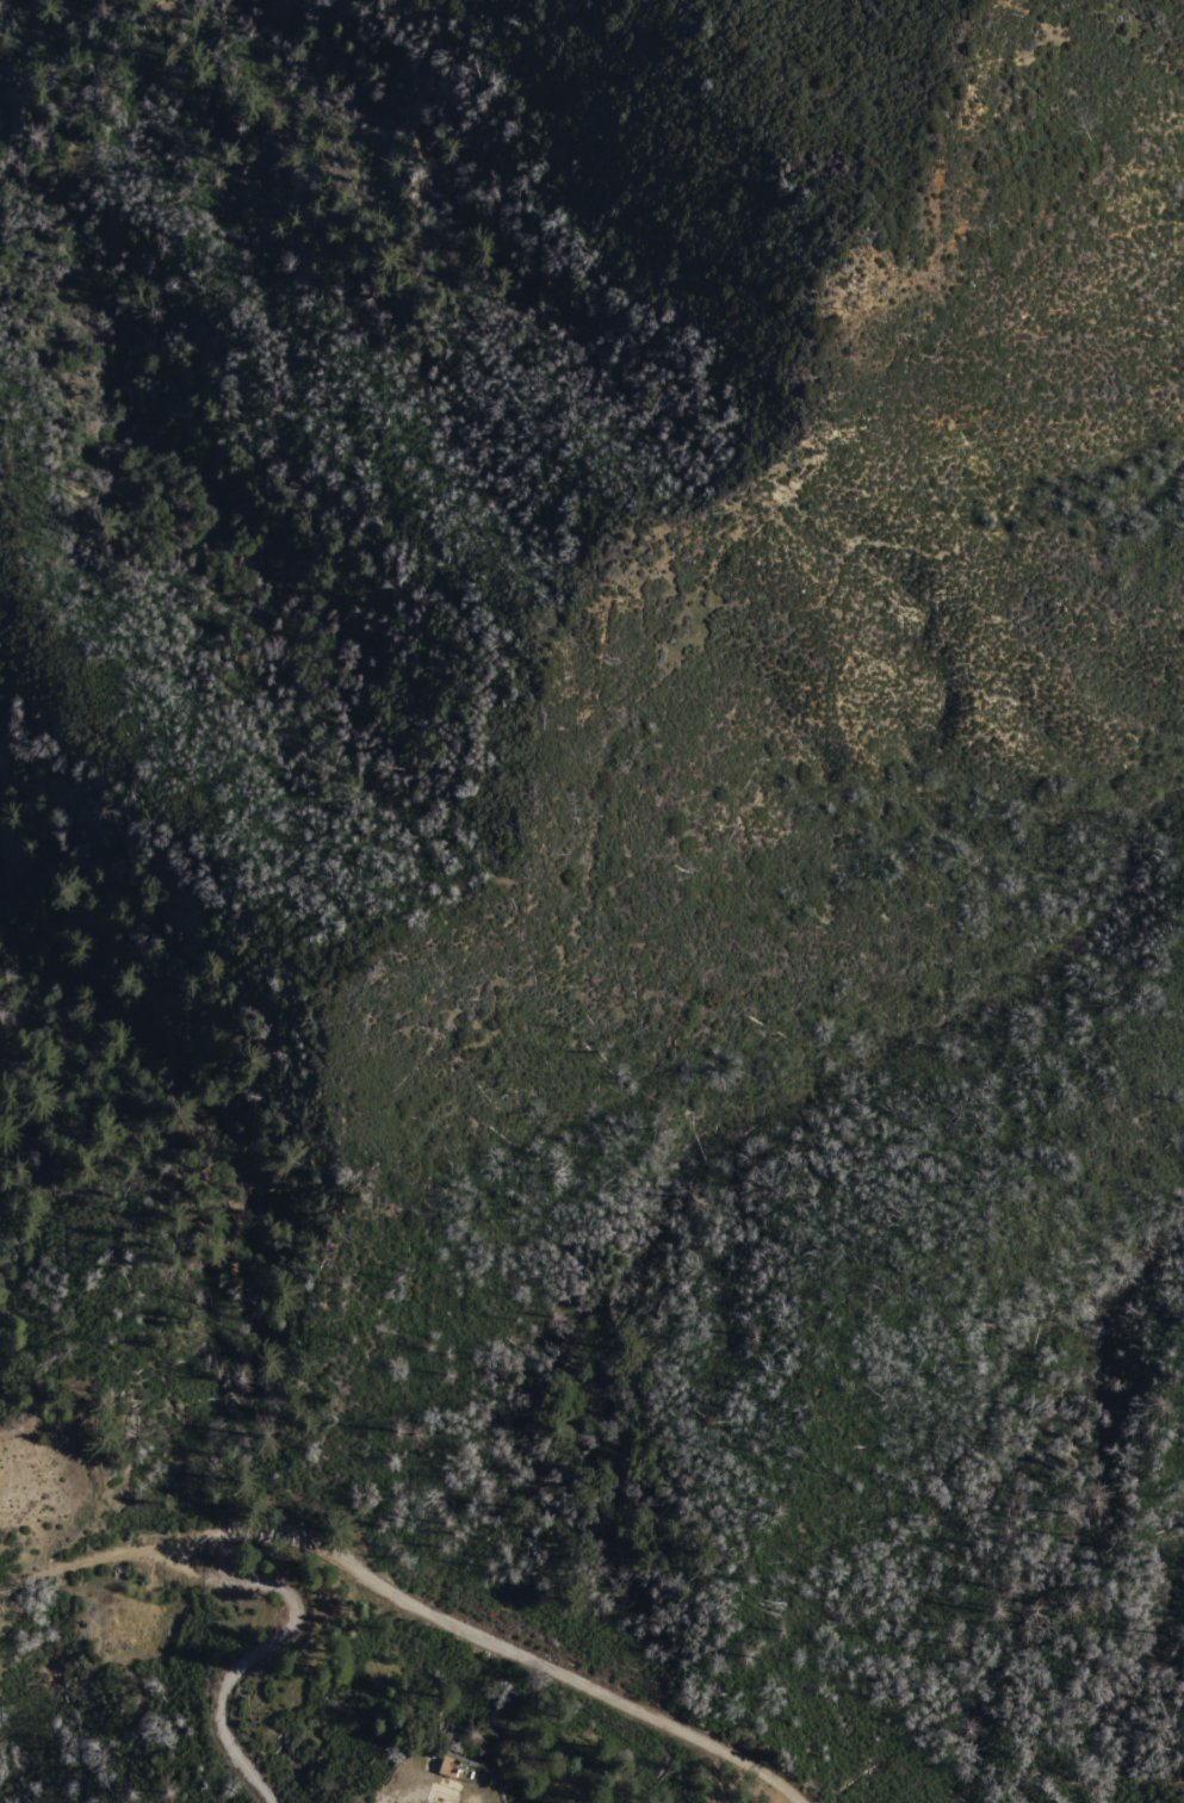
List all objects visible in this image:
road: (83, 1555)
road: (186, 1557)
road: (216, 1575)
road: (488, 1642)
road: (256, 1650)
airport: (336, 1700)
building: (459, 1764)
building: (448, 1766)

